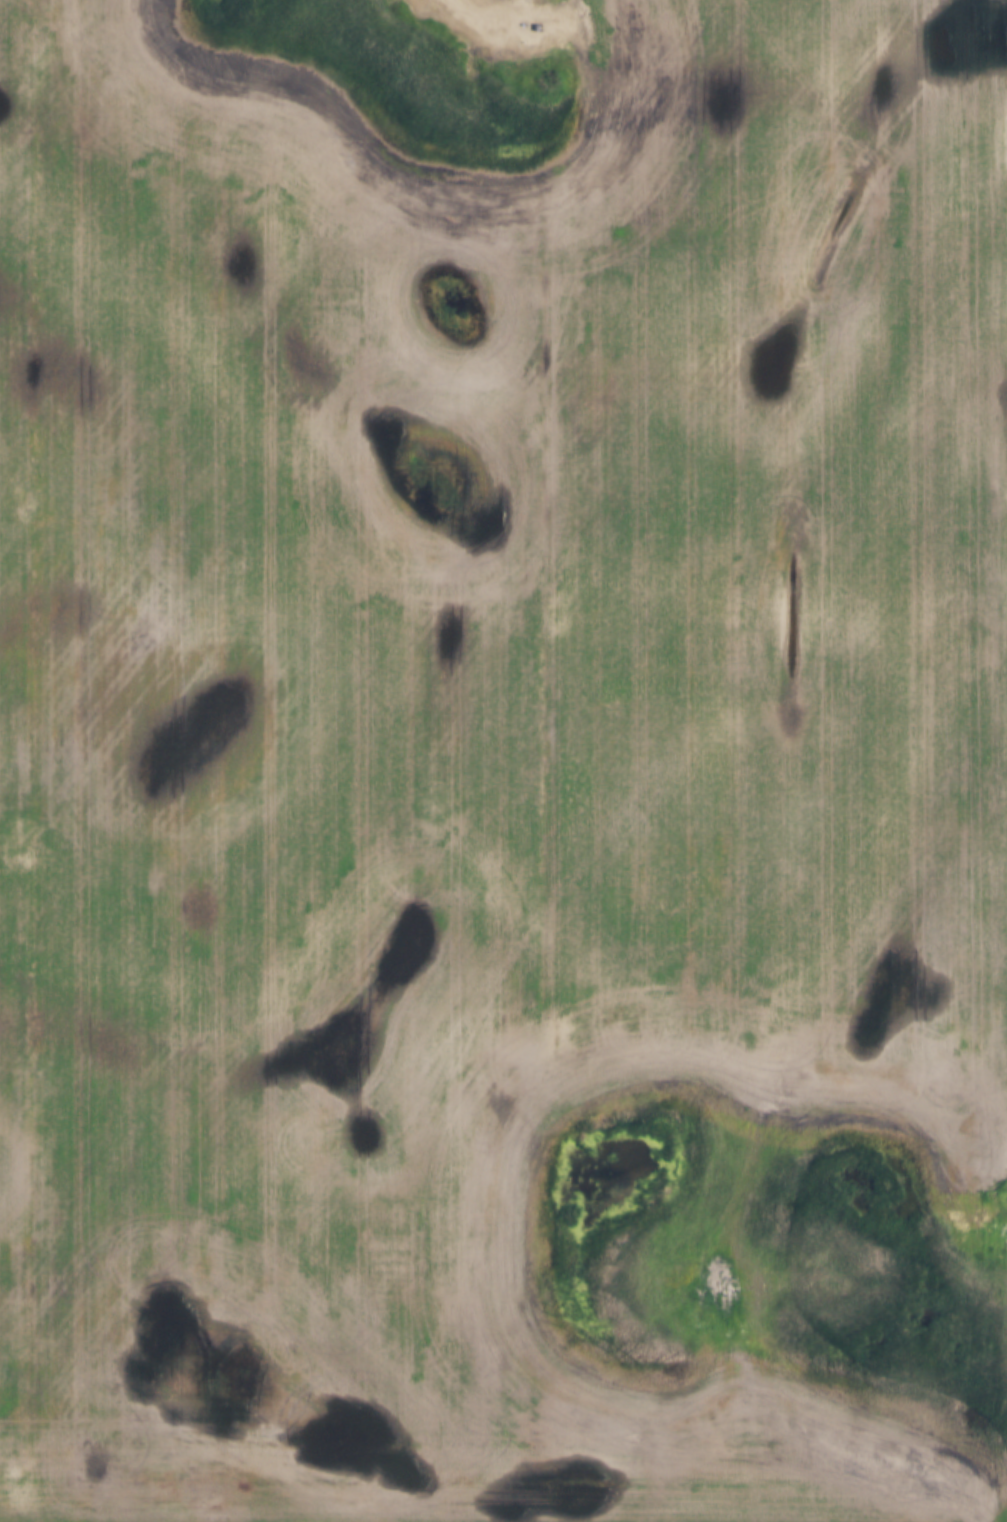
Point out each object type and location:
building: (719, 679)

